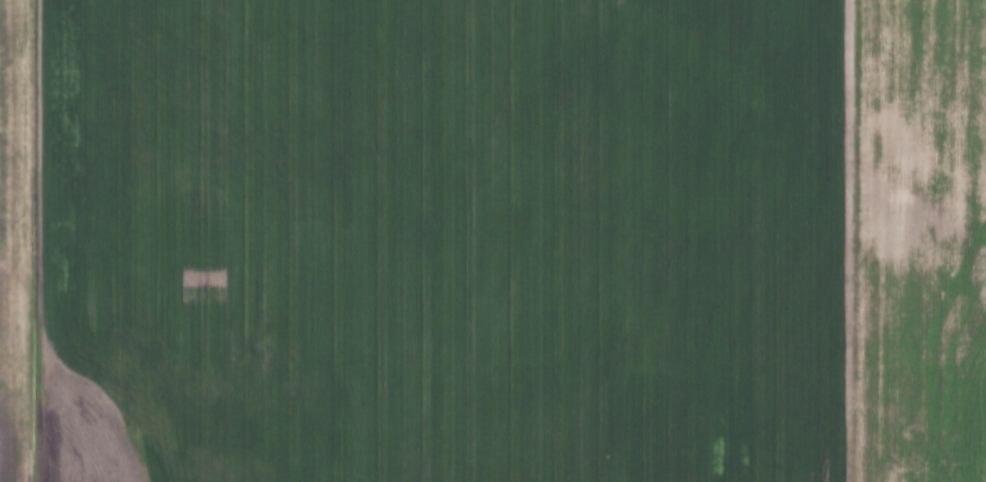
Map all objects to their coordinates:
road: (38, 241)

